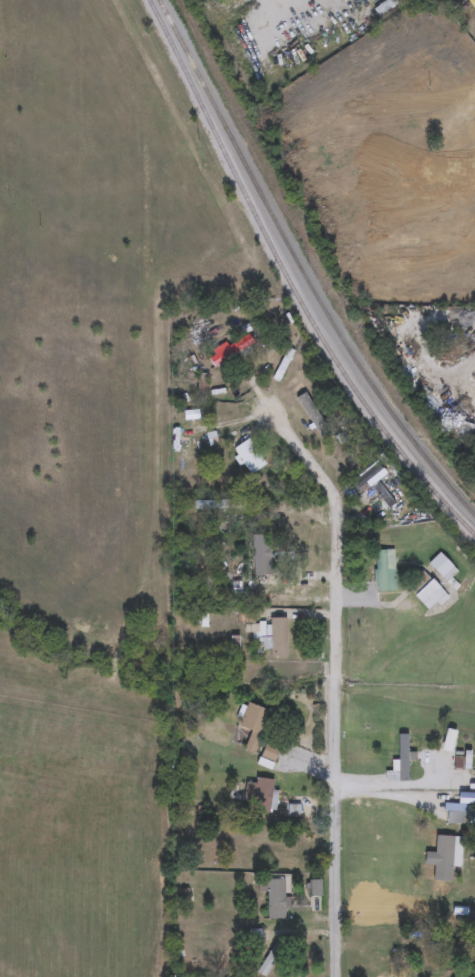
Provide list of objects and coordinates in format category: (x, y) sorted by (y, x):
building: (384, 6)
road: (469, 110)
building: (443, 158)
railway: (302, 267)
railway: (291, 280)
building: (230, 350)
building: (271, 354)
building: (246, 456)
building: (366, 477)
building: (260, 556)
building: (441, 568)
building: (384, 571)
building: (463, 587)
building: (425, 592)
building: (276, 638)
road: (336, 679)
building: (252, 725)
building: (269, 752)
building: (400, 762)
road: (394, 788)
building: (260, 794)
building: (443, 858)
building: (275, 899)
building: (465, 973)

